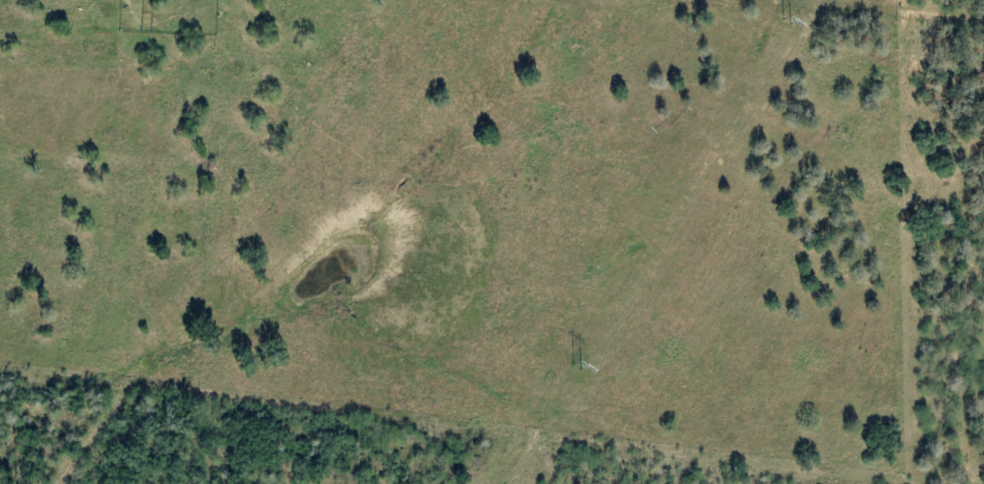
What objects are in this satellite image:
power tower: (793, 17)
power tower: (577, 367)

